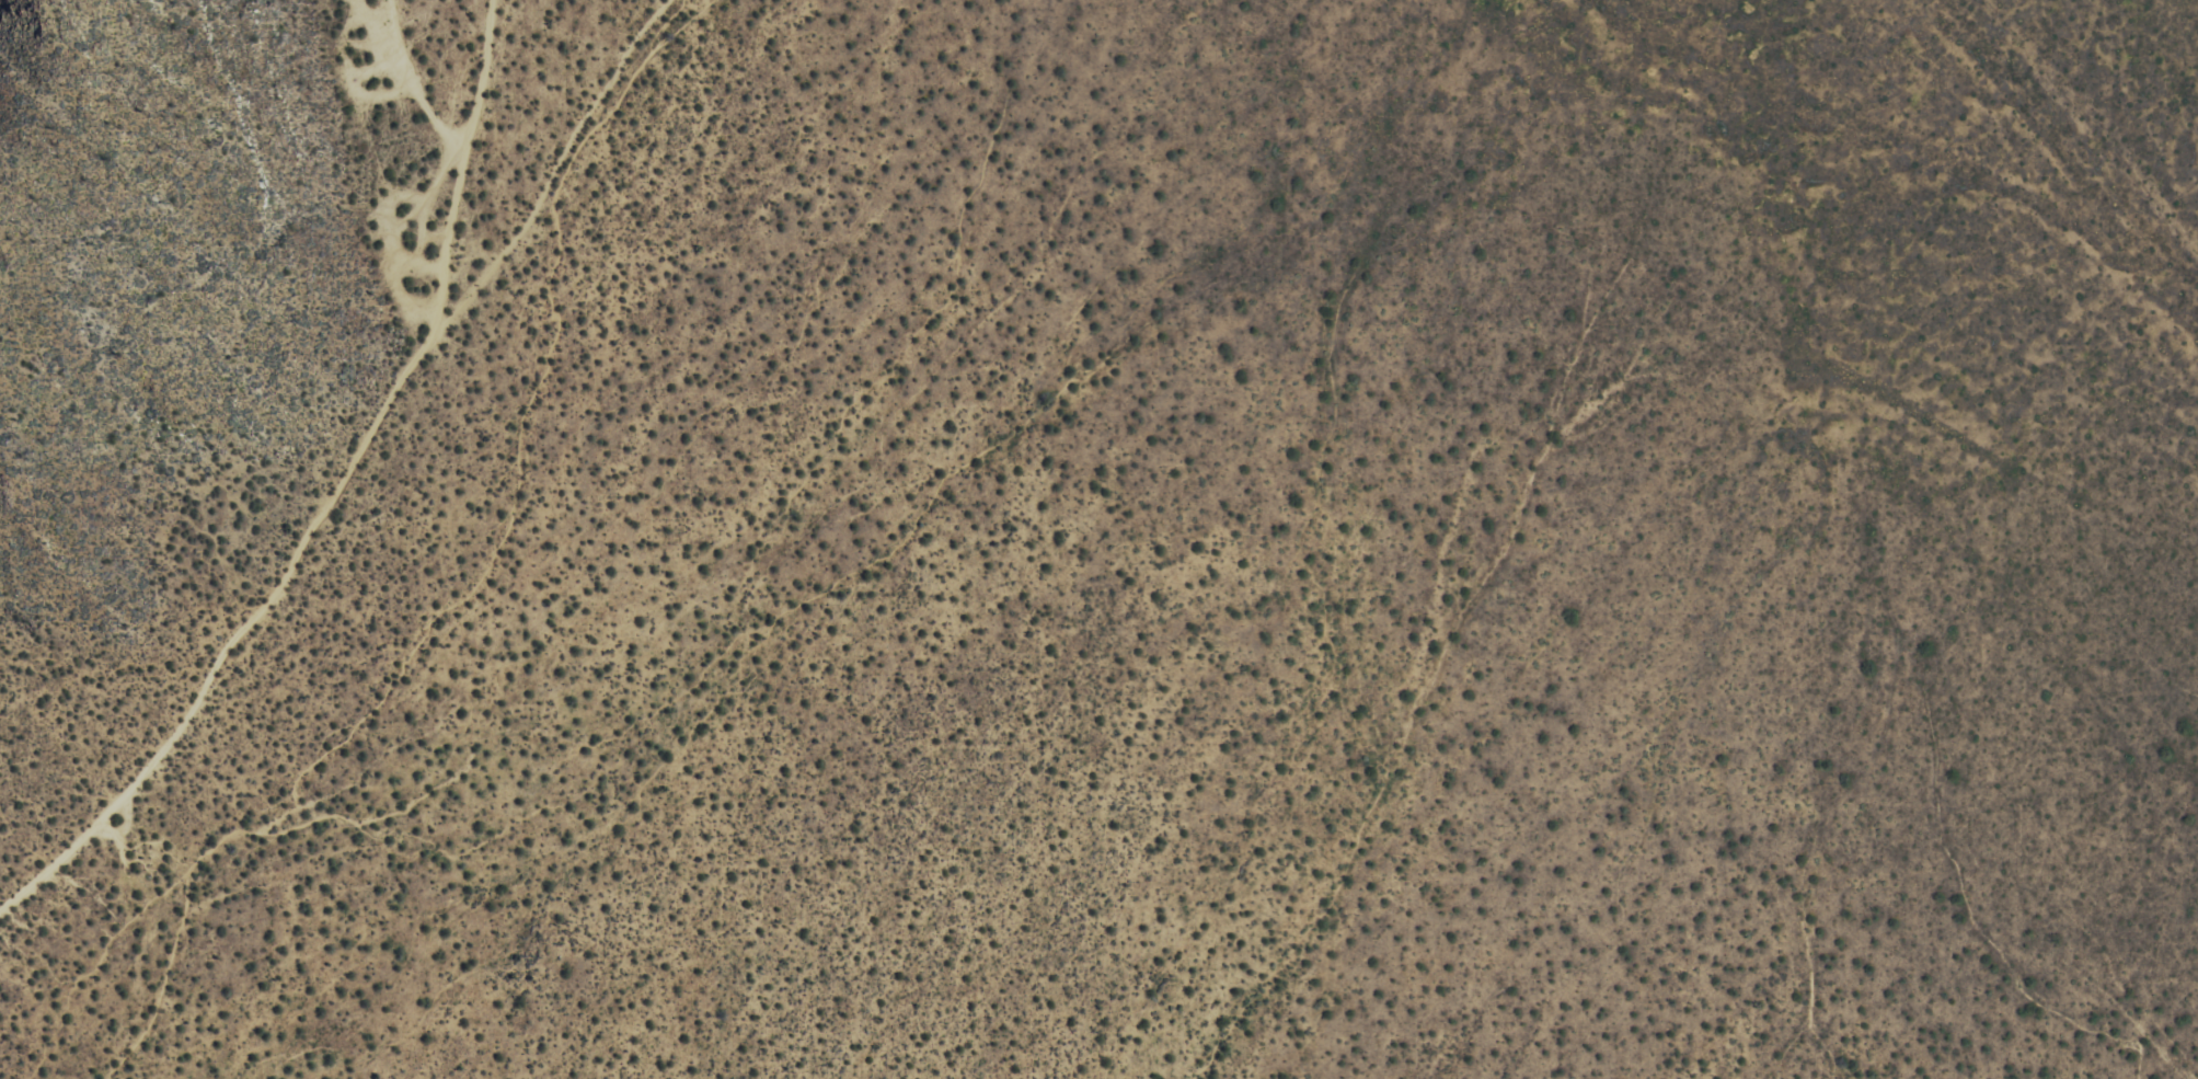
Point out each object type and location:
road: (555, 168)
airport runway: (2042, 176)
road: (329, 496)

